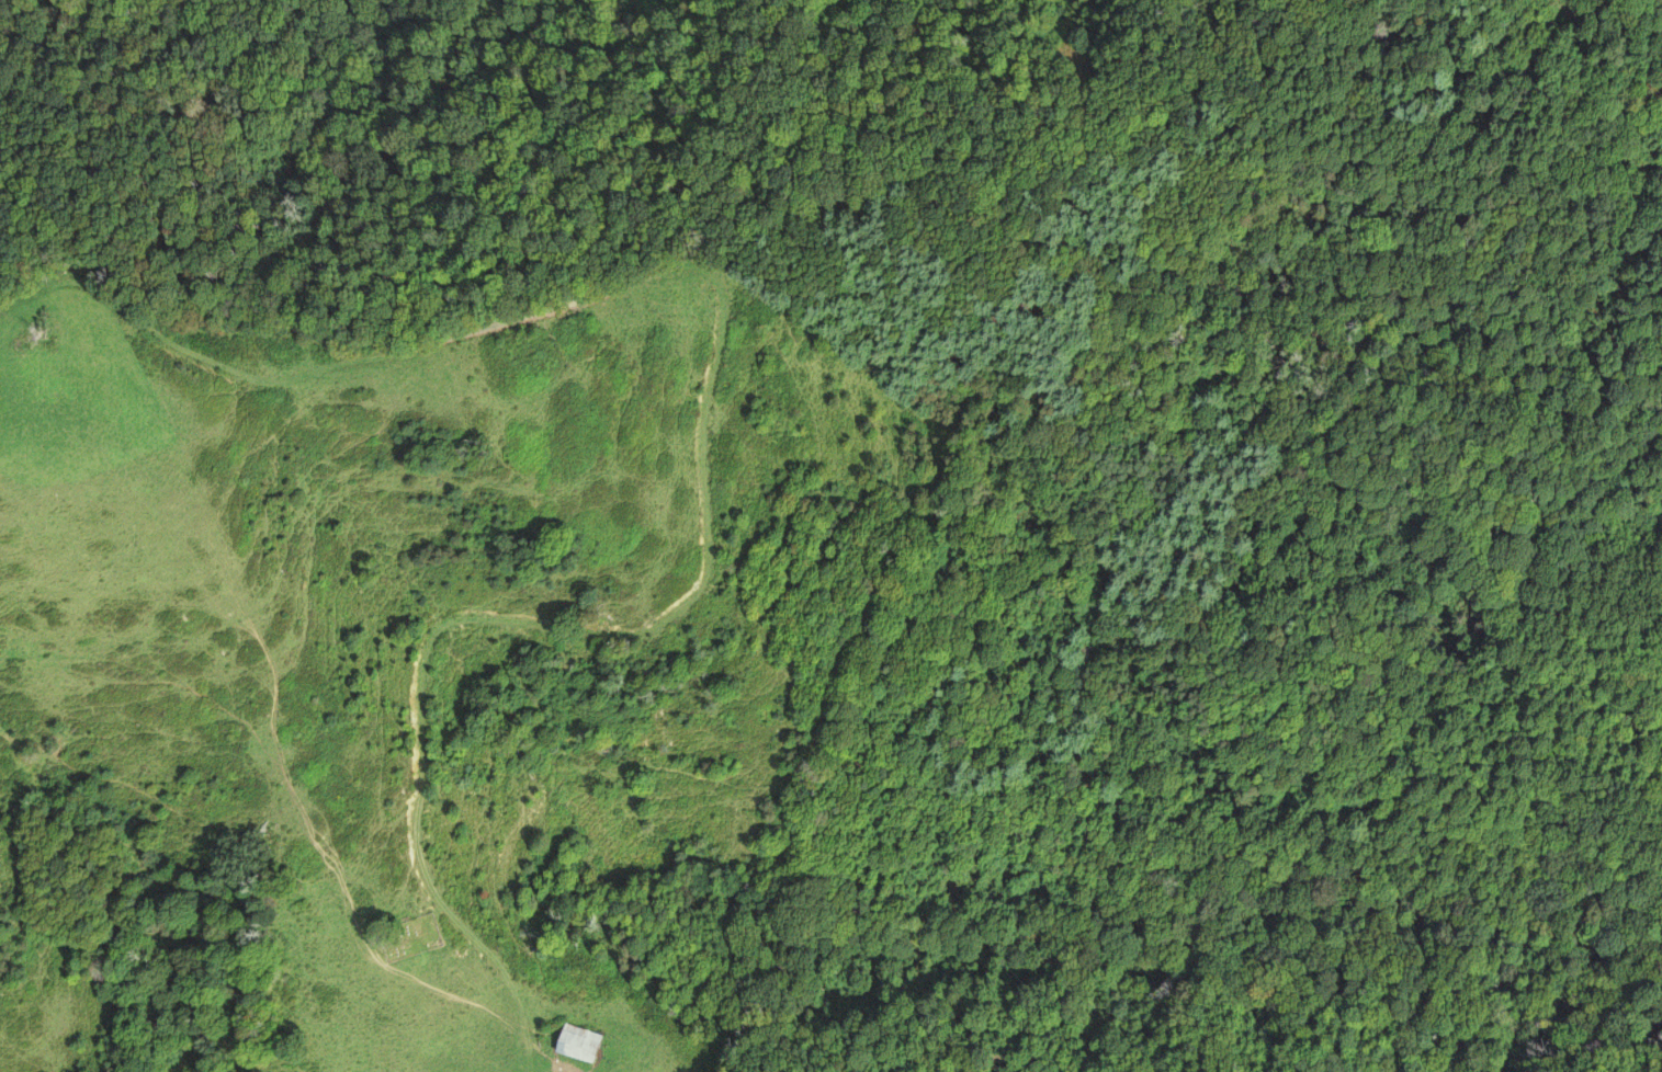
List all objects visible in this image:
road: (1551, 16)
road: (948, 125)
road: (702, 425)
building: (579, 1044)

